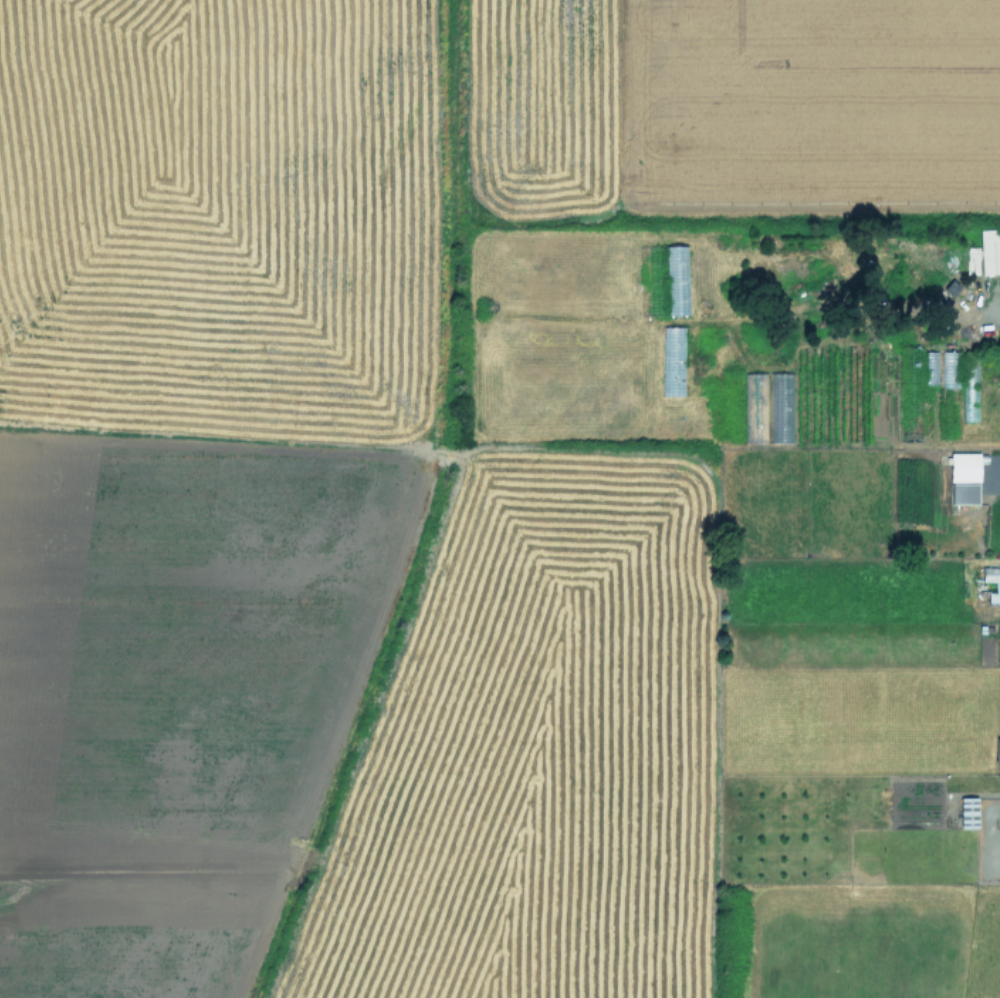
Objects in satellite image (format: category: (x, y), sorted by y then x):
building: (989, 250)
building: (677, 279)
road: (991, 320)
building: (672, 361)
building: (931, 367)
building: (950, 369)
building: (969, 386)
building: (964, 467)
building: (964, 493)
crop: (500, 499)
building: (996, 586)
building: (997, 750)
building: (968, 812)

